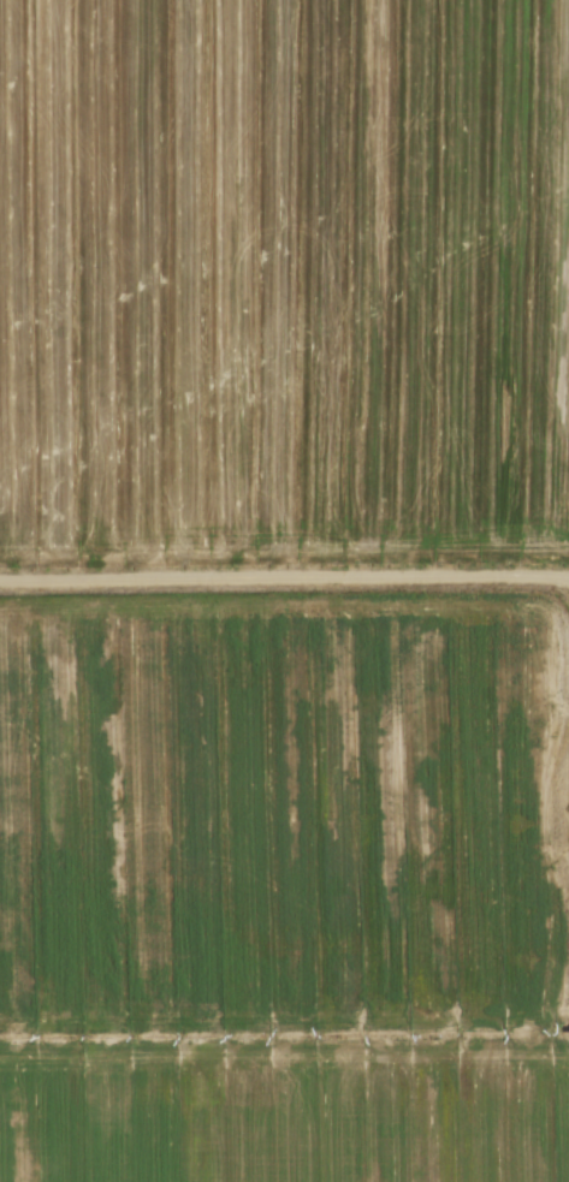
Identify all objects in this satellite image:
road: (284, 575)

